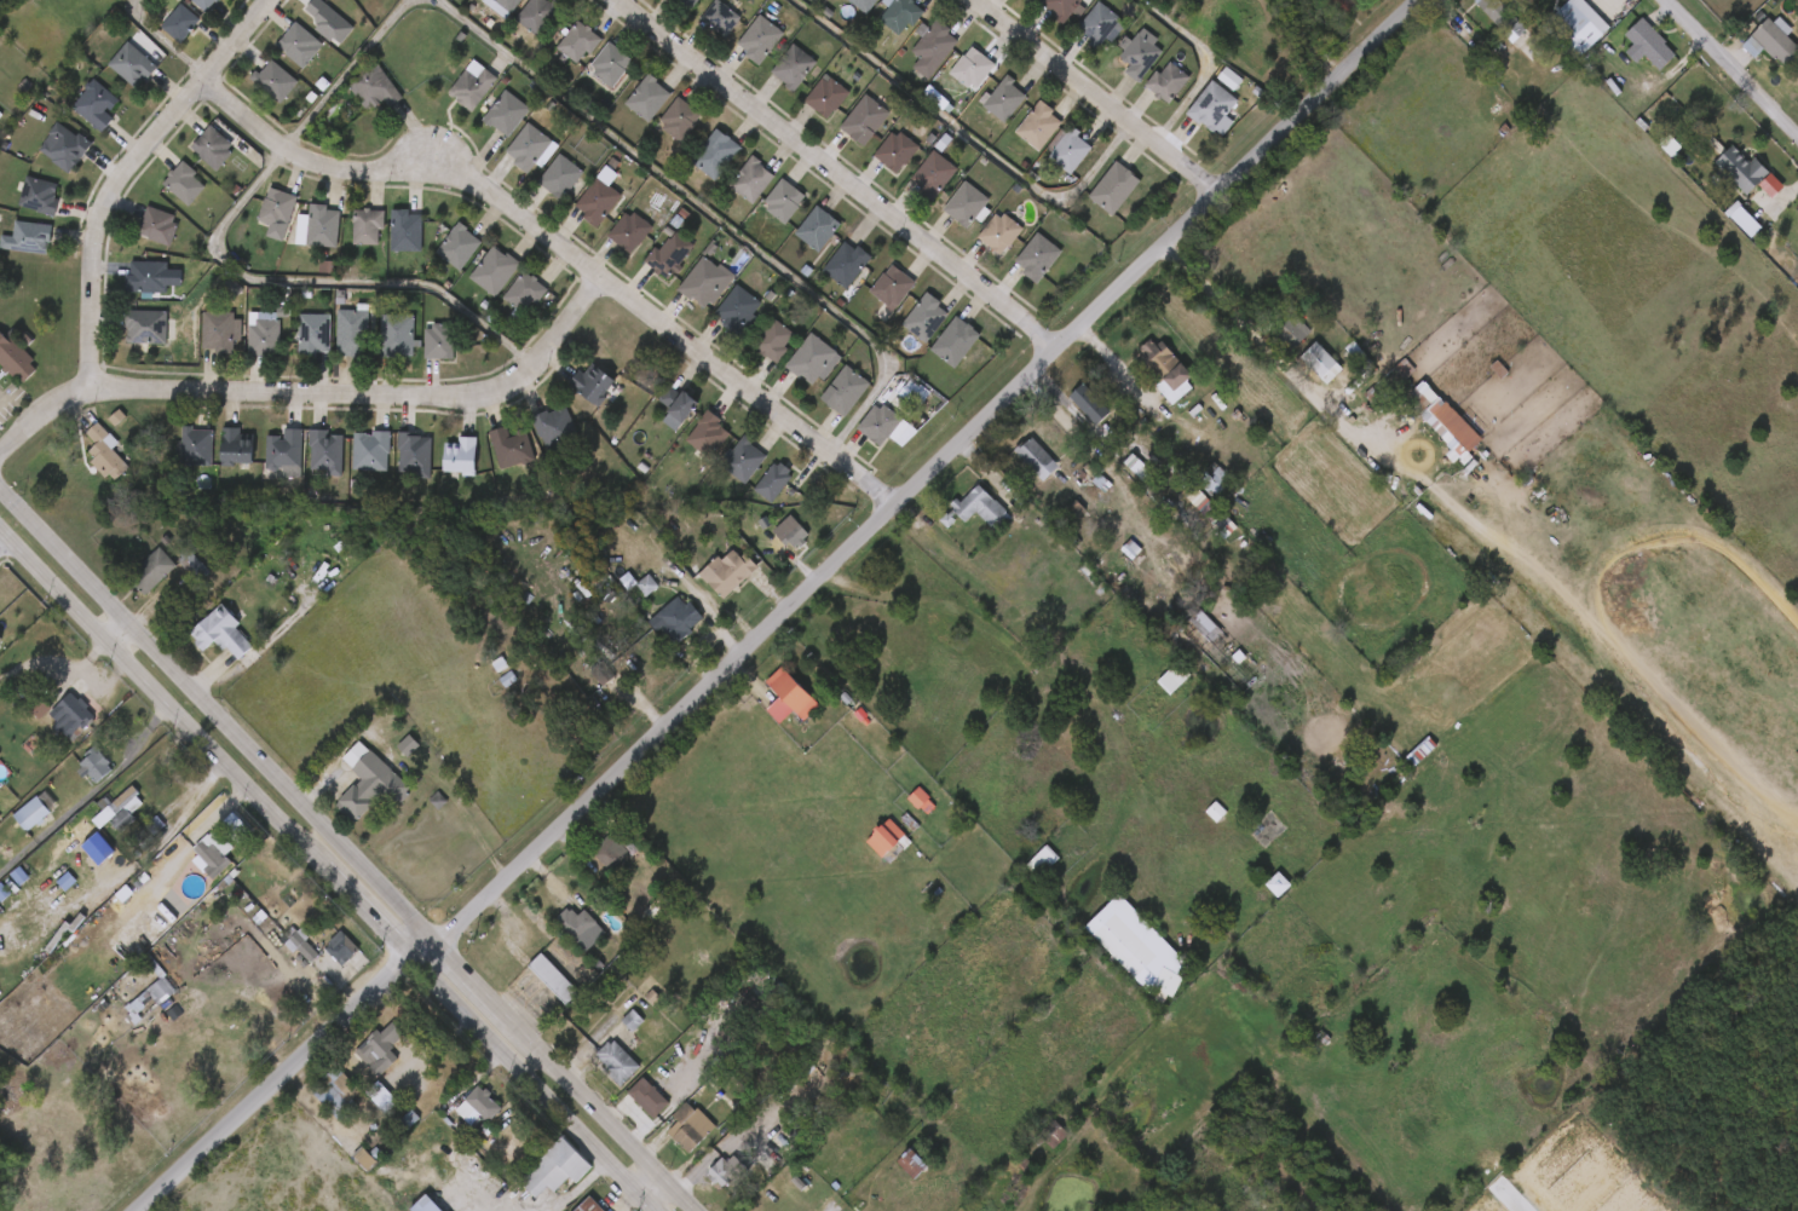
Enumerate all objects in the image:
building: (348, 2)
building: (206, 4)
building: (691, 4)
building: (1522, 4)
building: (869, 5)
building: (506, 6)
building: (1338, 6)
building: (665, 7)
building: (184, 8)
building: (1067, 8)
building: (483, 11)
building: (540, 15)
building: (905, 15)
building: (724, 17)
building: (1502, 17)
building: (183, 23)
building: (1103, 24)
building: (514, 25)
building: (1578, 25)
building: (698, 30)
building: (306, 31)
building: (159, 35)
building: (762, 39)
building: (581, 41)
building: (1771, 41)
road: (156, 42)
building: (302, 45)
building: (1647, 45)
building: (935, 46)
building: (557, 54)
building: (277, 56)
building: (1145, 56)
building: (133, 64)
building: (613, 64)
road: (1210, 65)
road: (1731, 67)
building: (796, 68)
building: (976, 68)
building: (110, 76)
building: (588, 77)
building: (772, 79)
building: (277, 81)
building: (1172, 81)
building: (378, 86)
building: (476, 87)
building: (253, 92)
building: (830, 96)
building: (450, 97)
road: (1095, 97)
building: (652, 98)
building: (1008, 98)
building: (353, 100)
building: (96, 103)
building: (1218, 108)
building: (626, 110)
building: (508, 113)
building: (74, 116)
building: (680, 119)
building: (868, 120)
building: (484, 125)
building: (1043, 126)
building: (657, 131)
road: (962, 139)
building: (212, 146)
building: (67, 148)
building: (531, 148)
building: (1072, 150)
building: (900, 151)
building: (720, 154)
building: (42, 158)
building: (191, 158)
building: (508, 160)
building: (693, 165)
building: (1738, 169)
road: (121, 173)
road: (837, 174)
building: (937, 175)
building: (564, 177)
building: (755, 179)
building: (183, 183)
building: (538, 188)
building: (1118, 188)
building: (730, 191)
building: (162, 195)
building: (41, 196)
building: (600, 201)
building: (788, 201)
building: (17, 206)
building: (972, 206)
building: (277, 207)
building: (577, 208)
road: (698, 212)
building: (255, 224)
building: (159, 225)
building: (369, 226)
building: (321, 227)
building: (819, 227)
building: (409, 231)
building: (633, 231)
building: (1003, 233)
building: (27, 236)
building: (137, 237)
building: (298, 238)
building: (346, 238)
building: (385, 243)
building: (609, 243)
building: (462, 246)
building: (15, 249)
road: (557, 252)
building: (672, 258)
building: (1042, 258)
building: (437, 259)
road: (220, 264)
building: (852, 265)
building: (647, 267)
building: (499, 271)
building: (146, 276)
building: (472, 282)
building: (709, 282)
building: (895, 287)
building: (129, 289)
building: (528, 294)
building: (685, 294)
building: (502, 304)
building: (740, 311)
building: (929, 318)
building: (716, 321)
building: (223, 331)
building: (355, 331)
building: (266, 334)
building: (317, 334)
building: (1281, 334)
building: (399, 335)
building: (125, 338)
building: (776, 340)
building: (443, 341)
building: (959, 341)
building: (200, 342)
building: (332, 342)
building: (242, 345)
building: (292, 346)
road: (1263, 346)
building: (375, 347)
building: (417, 353)
building: (16, 357)
building: (814, 358)
building: (1318, 363)
building: (1164, 371)
building: (5, 379)
building: (594, 385)
building: (846, 390)
building: (571, 396)
road: (364, 399)
building: (1088, 400)
building: (684, 404)
road: (40, 414)
building: (656, 419)
building: (1440, 419)
building: (887, 426)
building: (559, 428)
building: (710, 434)
building: (534, 439)
building: (686, 445)
building: (198, 446)
building: (512, 446)
building: (237, 448)
building: (374, 450)
building: (329, 451)
building: (106, 454)
building: (416, 454)
building: (287, 455)
building: (463, 456)
building: (174, 459)
building: (215, 459)
building: (490, 459)
building: (1041, 460)
building: (748, 461)
building: (350, 462)
building: (83, 463)
building: (305, 463)
building: (264, 465)
building: (393, 466)
building: (440, 467)
building: (1218, 481)
building: (777, 483)
building: (981, 509)
building: (789, 529)
building: (191, 561)
building: (155, 571)
building: (731, 573)
building: (131, 582)
building: (705, 584)
road: (783, 612)
building: (682, 621)
building: (657, 629)
building: (225, 632)
road: (109, 633)
building: (201, 645)
building: (646, 658)
building: (1179, 677)
building: (796, 693)
building: (69, 715)
building: (17, 717)
building: (50, 726)
building: (386, 756)
building: (94, 765)
building: (73, 777)
building: (371, 783)
building: (347, 794)
building: (921, 798)
building: (120, 808)
building: (34, 813)
building: (99, 821)
building: (11, 824)
building: (888, 841)
building: (613, 848)
road: (151, 849)
building: (209, 850)
road: (345, 854)
building: (76, 859)
building: (1045, 860)
building: (590, 861)
building: (186, 864)
road: (321, 877)
building: (1275, 882)
building: (577, 923)
building: (553, 934)
building: (344, 946)
building: (1143, 947)
building: (280, 955)
building: (319, 959)
building: (557, 978)
building: (531, 990)
building: (160, 991)
building: (384, 1048)
building: (358, 1060)
building: (621, 1062)
building: (595, 1072)
building: (351, 1097)
building: (652, 1097)
building: (313, 1103)
building: (484, 1108)
building: (627, 1108)
building: (456, 1118)
building: (692, 1128)
building: (1056, 1134)
building: (668, 1137)
building: (918, 1161)
building: (341, 1169)
building: (560, 1169)
building: (726, 1170)
building: (532, 1180)
road: (578, 1188)
road: (649, 1192)
road: (443, 1201)
building: (430, 1205)
building: (593, 1206)
building: (403, 1209)
road: (544, 1209)
building: (567, 1209)

